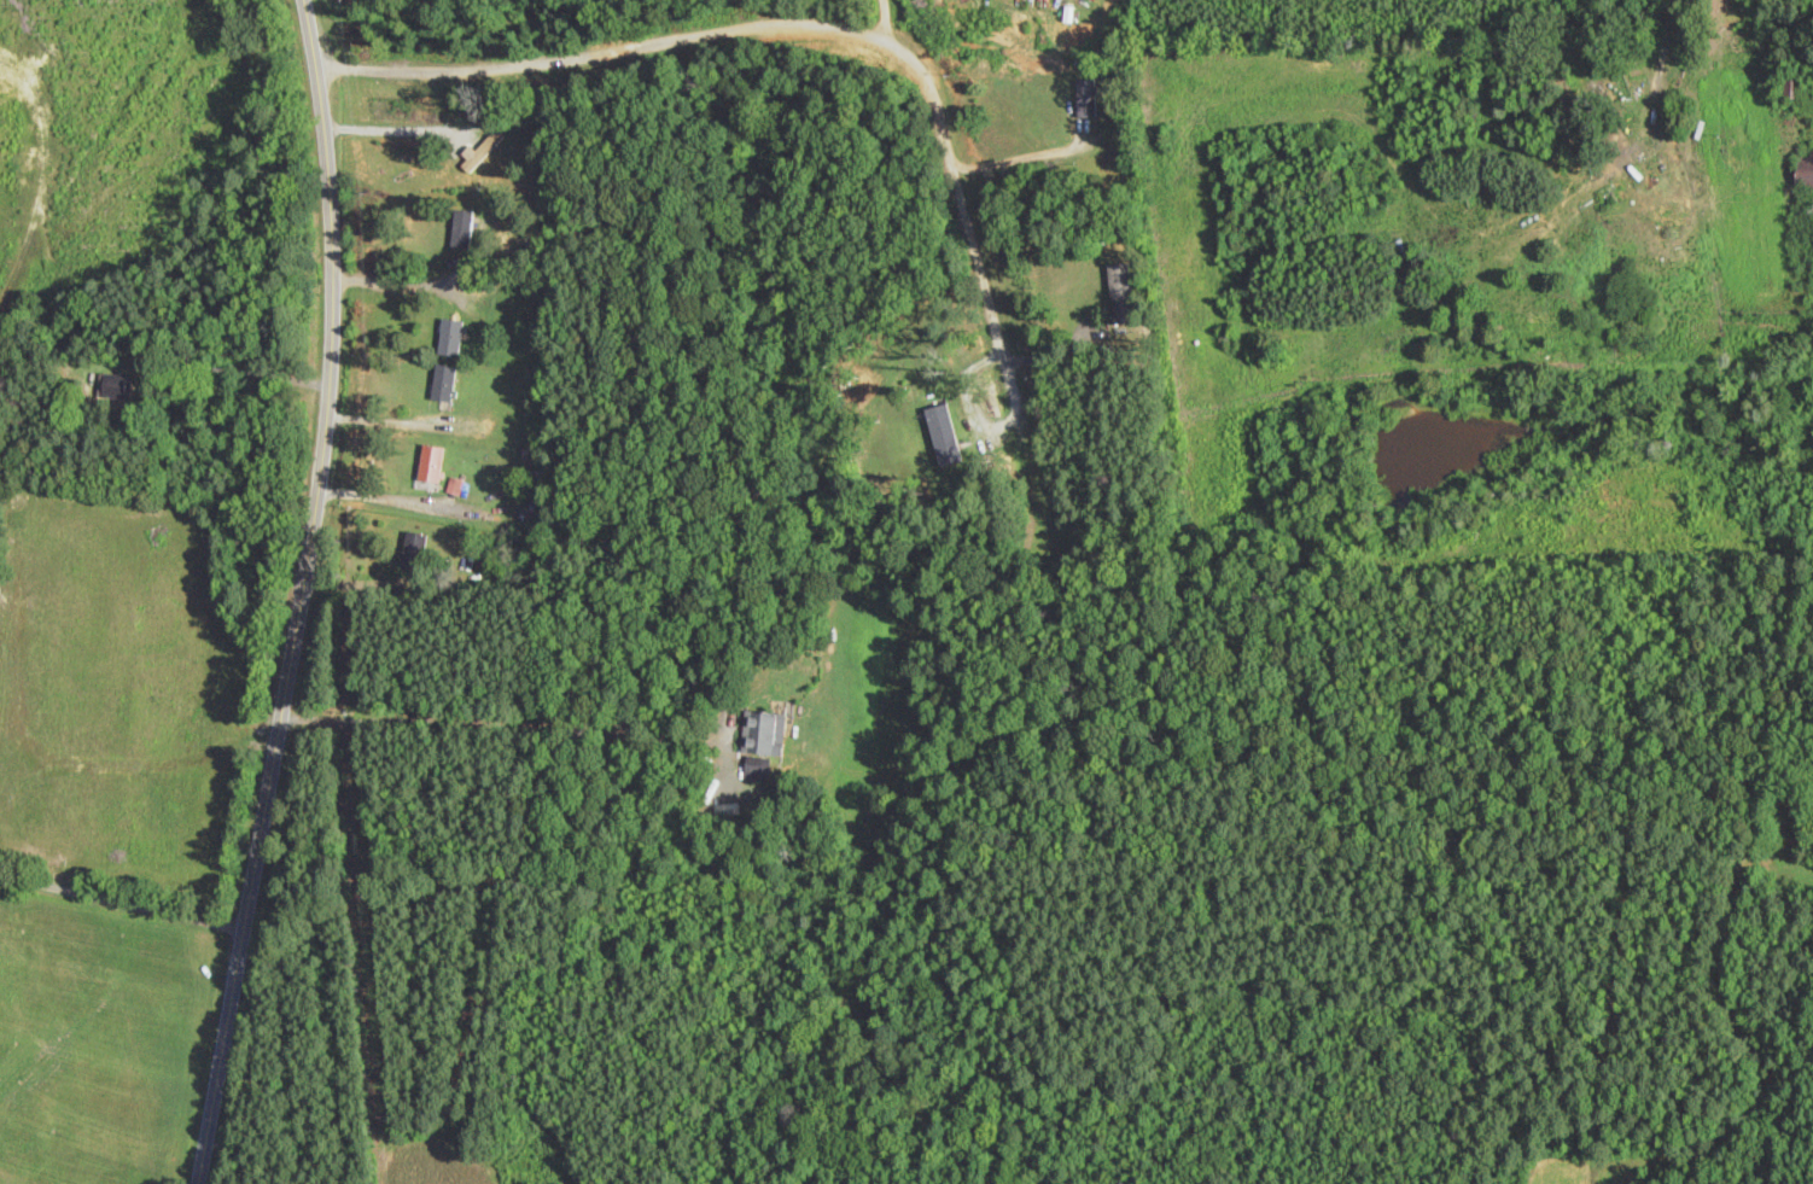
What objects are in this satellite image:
road: (881, 21)
road: (769, 31)
building: (1615, 84)
building: (1789, 87)
building: (1085, 99)
road: (394, 130)
building: (483, 152)
road: (1013, 161)
building: (1805, 169)
building: (461, 231)
road: (404, 285)
building: (1120, 293)
building: (450, 338)
building: (444, 384)
building: (115, 386)
road: (386, 421)
building: (431, 463)
building: (413, 550)
road: (304, 594)
road: (455, 725)
building: (762, 733)
road: (122, 902)

